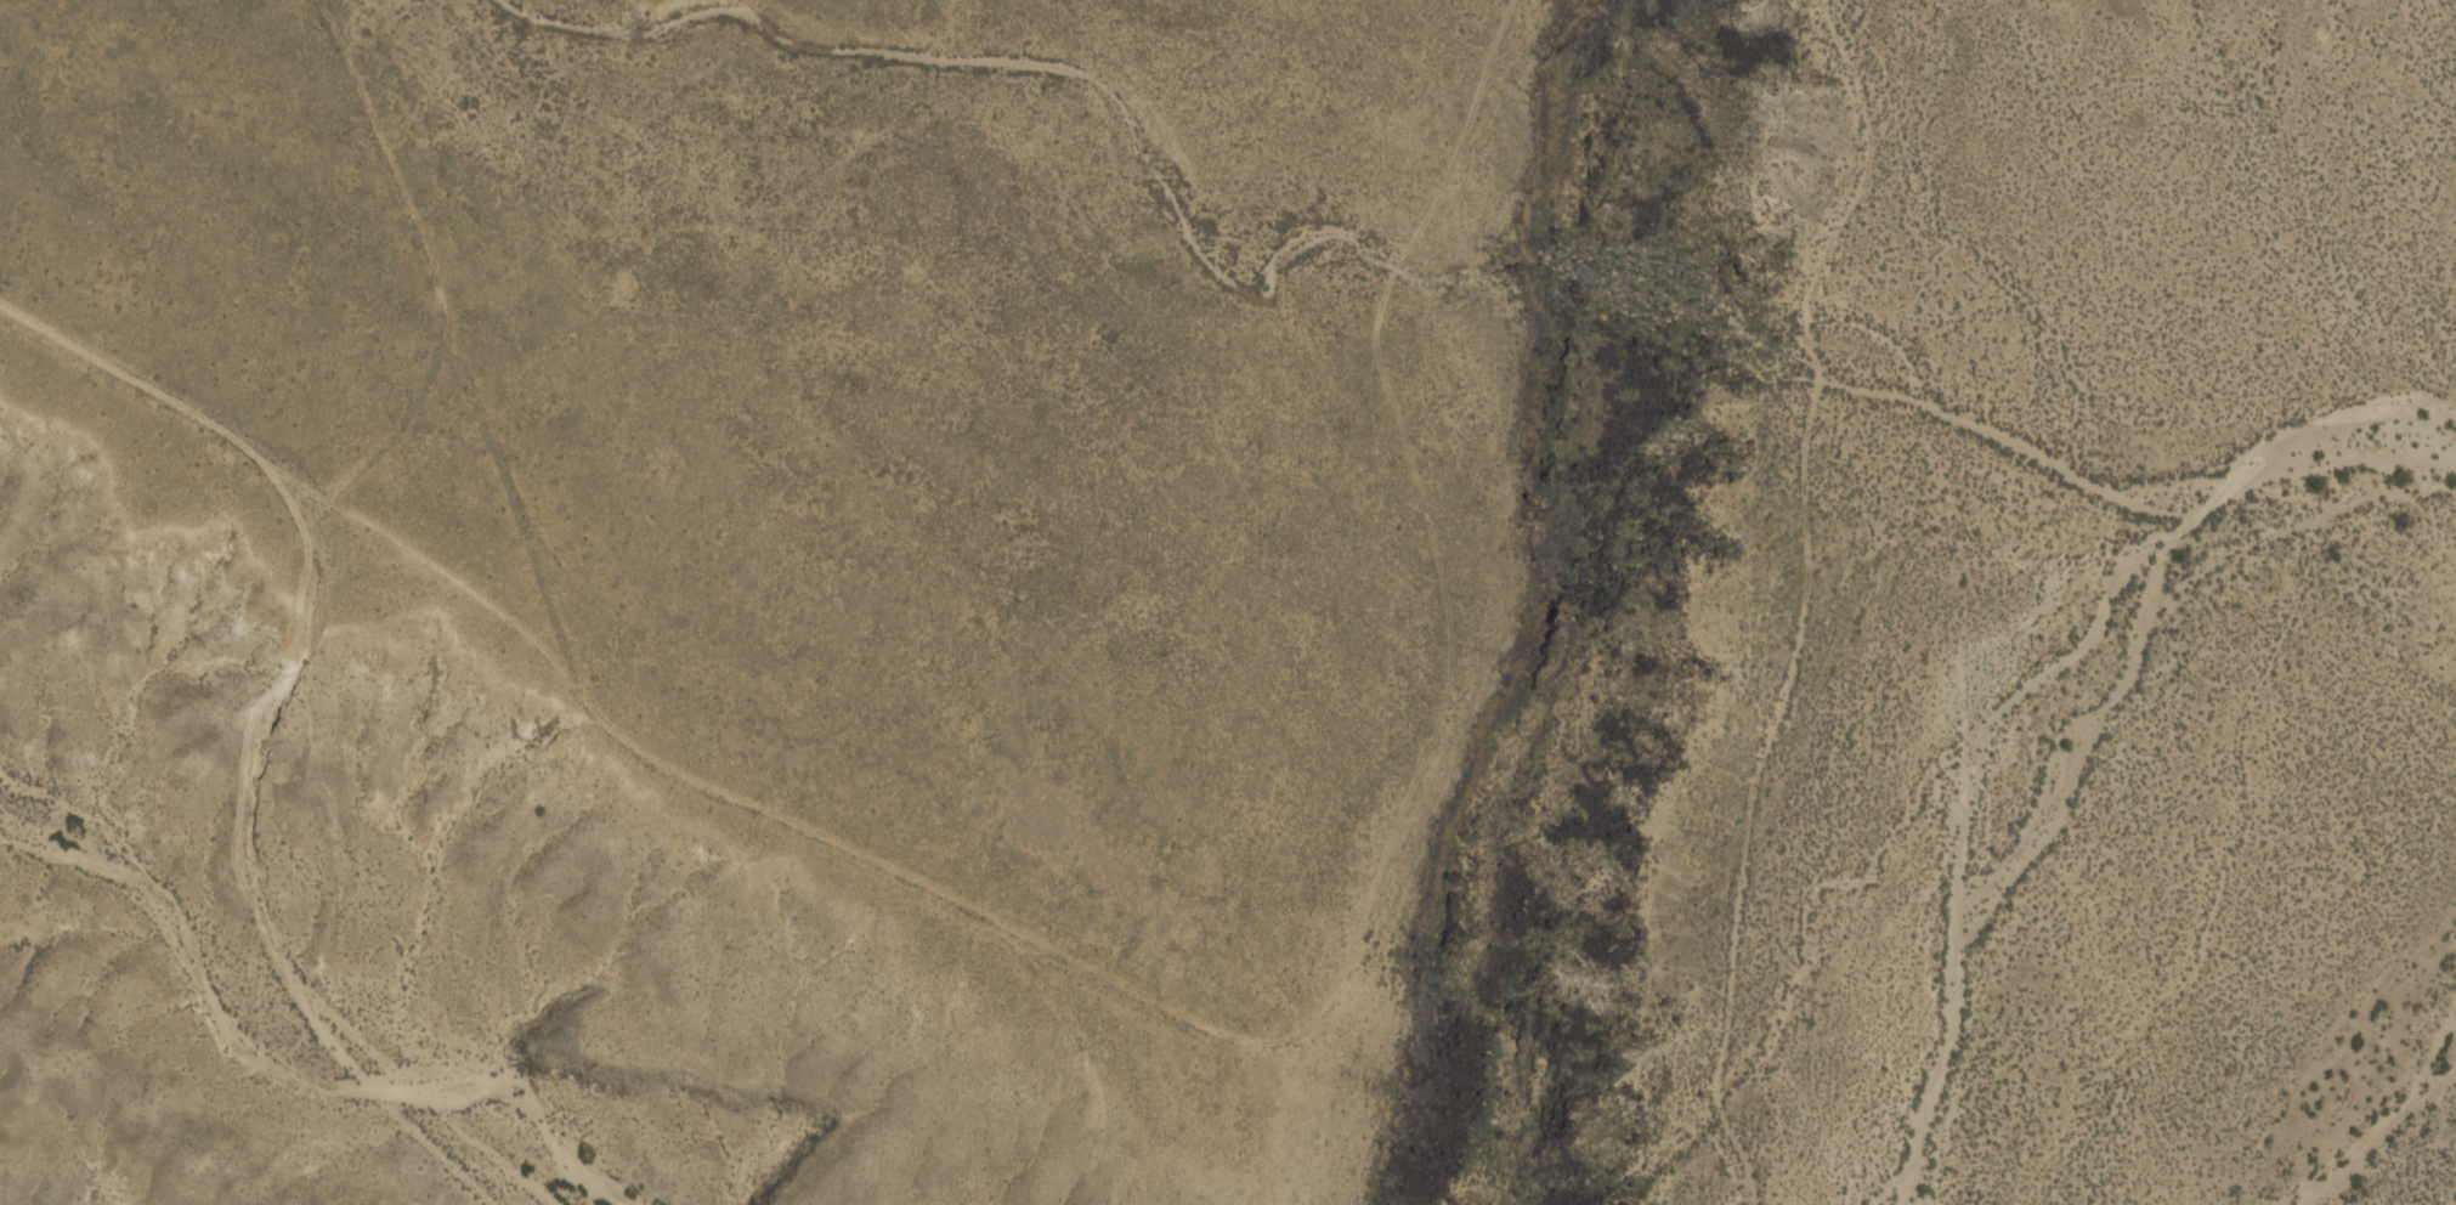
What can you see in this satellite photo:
road: (1117, 980)

